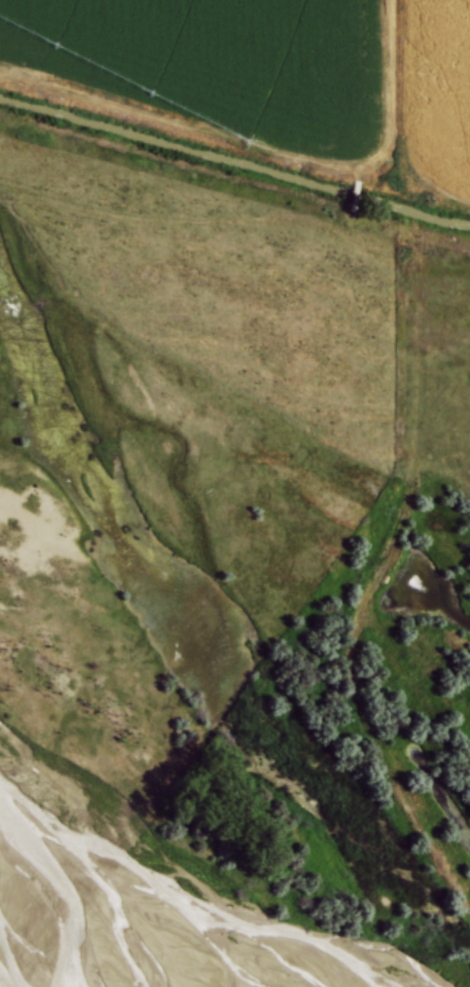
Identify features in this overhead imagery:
river: (9, 982)

